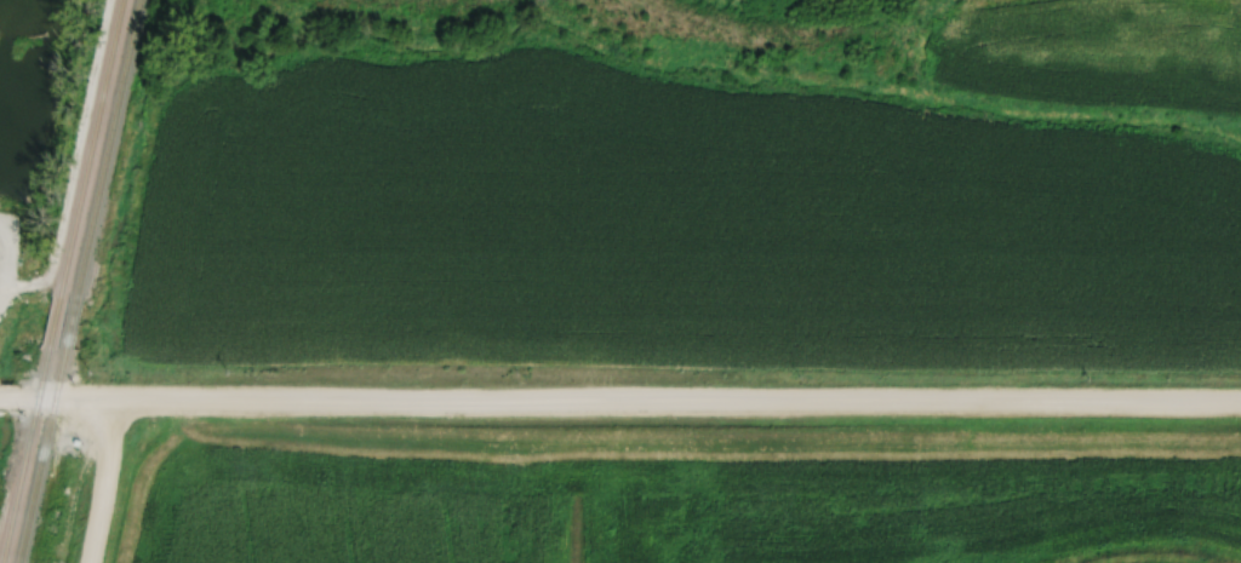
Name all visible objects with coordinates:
railway: (62, 281)
railway: (79, 281)
road: (620, 404)
road: (99, 483)

